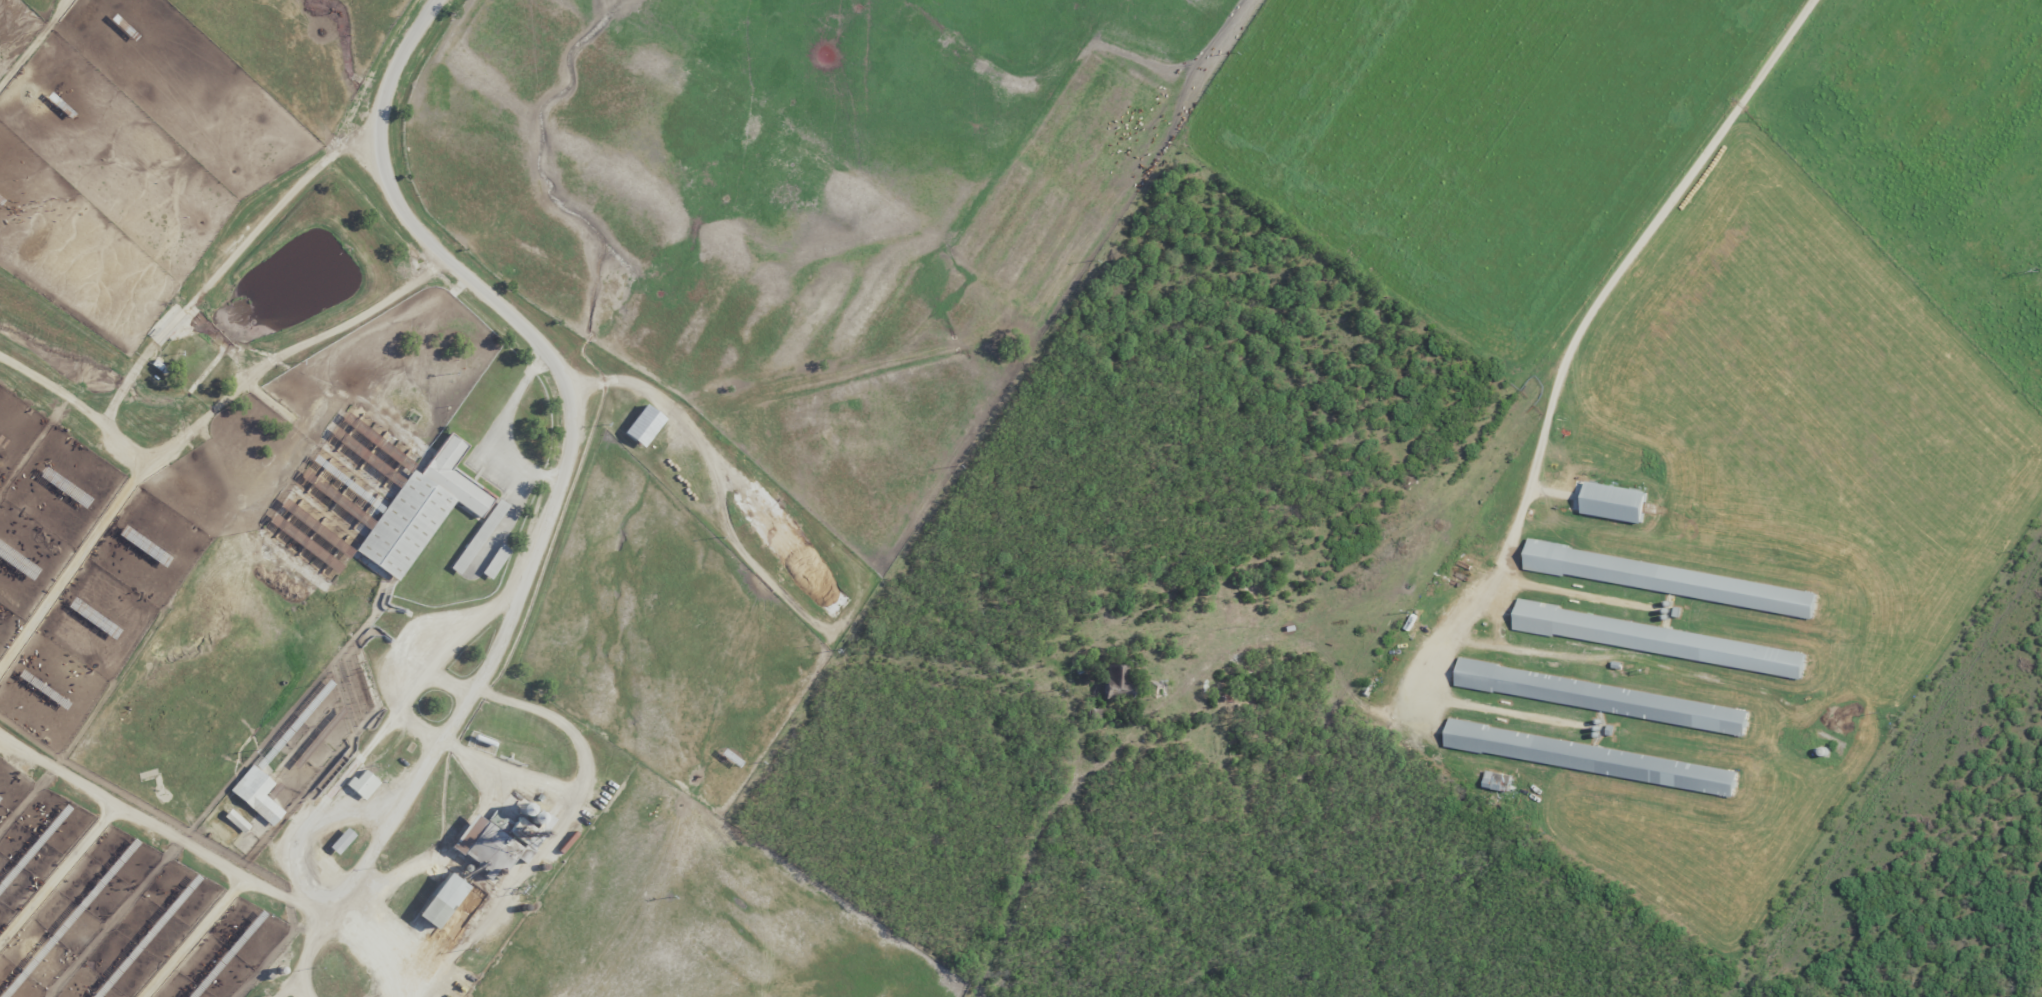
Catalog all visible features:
power tower: (2038, 270)
road: (1559, 377)
building: (641, 425)
building: (452, 477)
road: (559, 483)
building: (1613, 504)
building: (477, 537)
building: (493, 561)
building: (1670, 580)
building: (1659, 641)
building: (1114, 682)
building: (1601, 698)
building: (1591, 759)
building: (1496, 782)
building: (360, 784)
building: (254, 795)
building: (234, 821)
building: (339, 841)
building: (438, 901)

